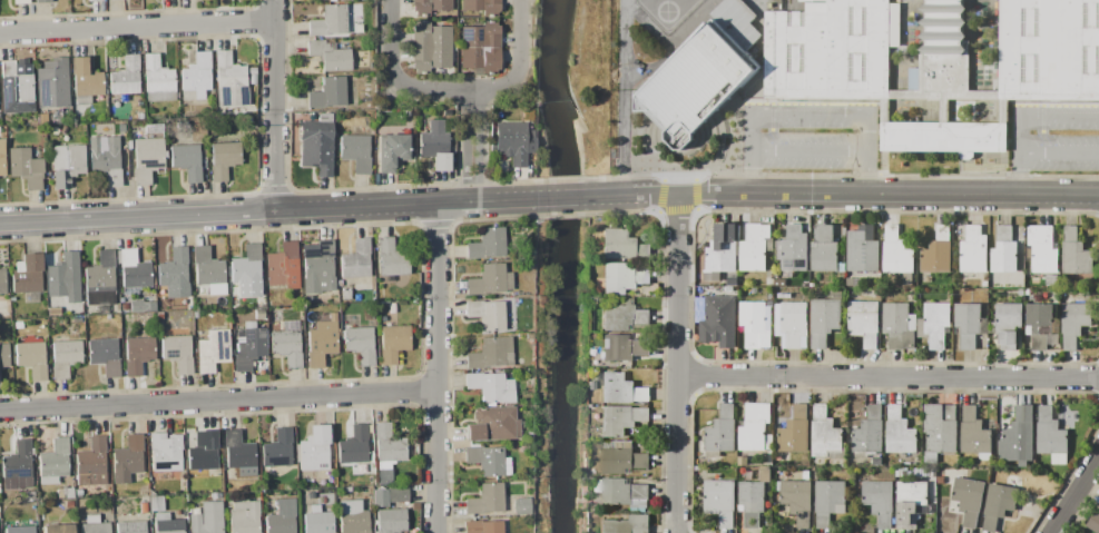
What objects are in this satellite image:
building: (42, 0)
building: (90, 0)
building: (331, 0)
building: (20, 1)
building: (429, 6)
building: (481, 6)
building: (328, 21)
building: (737, 21)
road: (138, 26)
building: (429, 47)
building: (480, 48)
building: (330, 56)
building: (934, 62)
building: (252, 71)
building: (197, 75)
building: (126, 77)
building: (157, 79)
building: (252, 79)
building: (85, 81)
building: (229, 81)
building: (52, 83)
building: (696, 85)
building: (16, 87)
road: (455, 88)
building: (253, 90)
building: (328, 92)
road: (275, 105)
road: (811, 109)
road: (1021, 112)
building: (47, 118)
road: (624, 118)
building: (62, 129)
parking lot: (811, 136)
parking lot: (1054, 136)
building: (58, 139)
building: (512, 141)
building: (317, 145)
building: (435, 145)
road: (468, 145)
road: (479, 145)
building: (356, 151)
building: (392, 151)
road: (811, 151)
road: (1060, 152)
building: (147, 155)
building: (106, 158)
building: (2, 159)
building: (223, 159)
building: (186, 161)
building: (67, 164)
building: (26, 167)
road: (399, 186)
road: (274, 188)
road: (674, 194)
road: (925, 194)
road: (569, 197)
road: (129, 198)
road: (406, 204)
road: (137, 216)
road: (436, 225)
road: (209, 231)
building: (488, 244)
building: (622, 246)
building: (755, 247)
building: (971, 247)
building: (723, 248)
building: (826, 248)
building: (794, 249)
building: (862, 249)
building: (1042, 249)
building: (1003, 251)
building: (936, 253)
building: (1075, 254)
building: (896, 255)
building: (392, 257)
building: (356, 260)
building: (246, 264)
building: (207, 266)
building: (283, 266)
building: (174, 268)
building: (318, 269)
building: (135, 270)
building: (62, 273)
building: (27, 274)
building: (622, 277)
building: (100, 279)
building: (490, 279)
building: (2, 280)
building: (768, 280)
building: (1051, 280)
building: (850, 282)
building: (984, 283)
building: (1020, 292)
building: (835, 293)
building: (345, 295)
building: (307, 298)
building: (235, 300)
building: (188, 302)
building: (261, 303)
building: (125, 306)
building: (141, 306)
building: (392, 307)
building: (53, 310)
building: (258, 314)
building: (487, 314)
building: (621, 315)
building: (381, 318)
building: (716, 319)
building: (823, 320)
building: (863, 322)
building: (1073, 322)
building: (756, 324)
building: (791, 324)
building: (934, 324)
building: (969, 324)
building: (18, 325)
building: (896, 325)
building: (1007, 325)
building: (1040, 325)
building: (322, 340)
building: (392, 343)
building: (360, 344)
building: (249, 346)
building: (286, 346)
building: (622, 347)
building: (212, 349)
building: (178, 353)
building: (491, 353)
building: (138, 354)
building: (3, 355)
building: (105, 355)
building: (65, 357)
building: (31, 358)
road: (677, 363)
road: (438, 367)
road: (887, 376)
building: (591, 385)
building: (491, 386)
building: (621, 388)
road: (218, 399)
building: (620, 420)
building: (493, 424)
building: (755, 428)
building: (939, 430)
building: (720, 431)
building: (794, 432)
building: (869, 432)
building: (899, 432)
building: (973, 433)
building: (826, 435)
building: (1050, 436)
building: (1018, 437)
building: (354, 445)
building: (277, 448)
building: (314, 450)
building: (387, 451)
building: (165, 452)
building: (202, 453)
building: (236, 453)
building: (621, 458)
building: (127, 460)
building: (485, 460)
building: (53, 462)
building: (876, 462)
building: (91, 463)
building: (18, 464)
building: (360, 467)
building: (189, 487)
building: (346, 488)
building: (78, 492)
building: (65, 493)
building: (398, 494)
building: (621, 494)
road: (1075, 494)
building: (30, 495)
building: (214, 495)
building: (310, 495)
building: (380, 497)
building: (968, 499)
building: (487, 500)
building: (719, 501)
building: (797, 501)
building: (828, 501)
building: (877, 501)
building: (750, 502)
building: (156, 503)
building: (910, 503)
building: (998, 504)
building: (520, 505)
building: (144, 507)
building: (1098, 507)
building: (242, 516)
building: (281, 516)
building: (352, 517)
building: (206, 519)
building: (316, 521)
building: (391, 521)
building: (1095, 522)
building: (167, 523)
building: (94, 524)
building: (627, 524)
building: (130, 526)
building: (483, 526)
building: (19, 529)
building: (58, 529)

